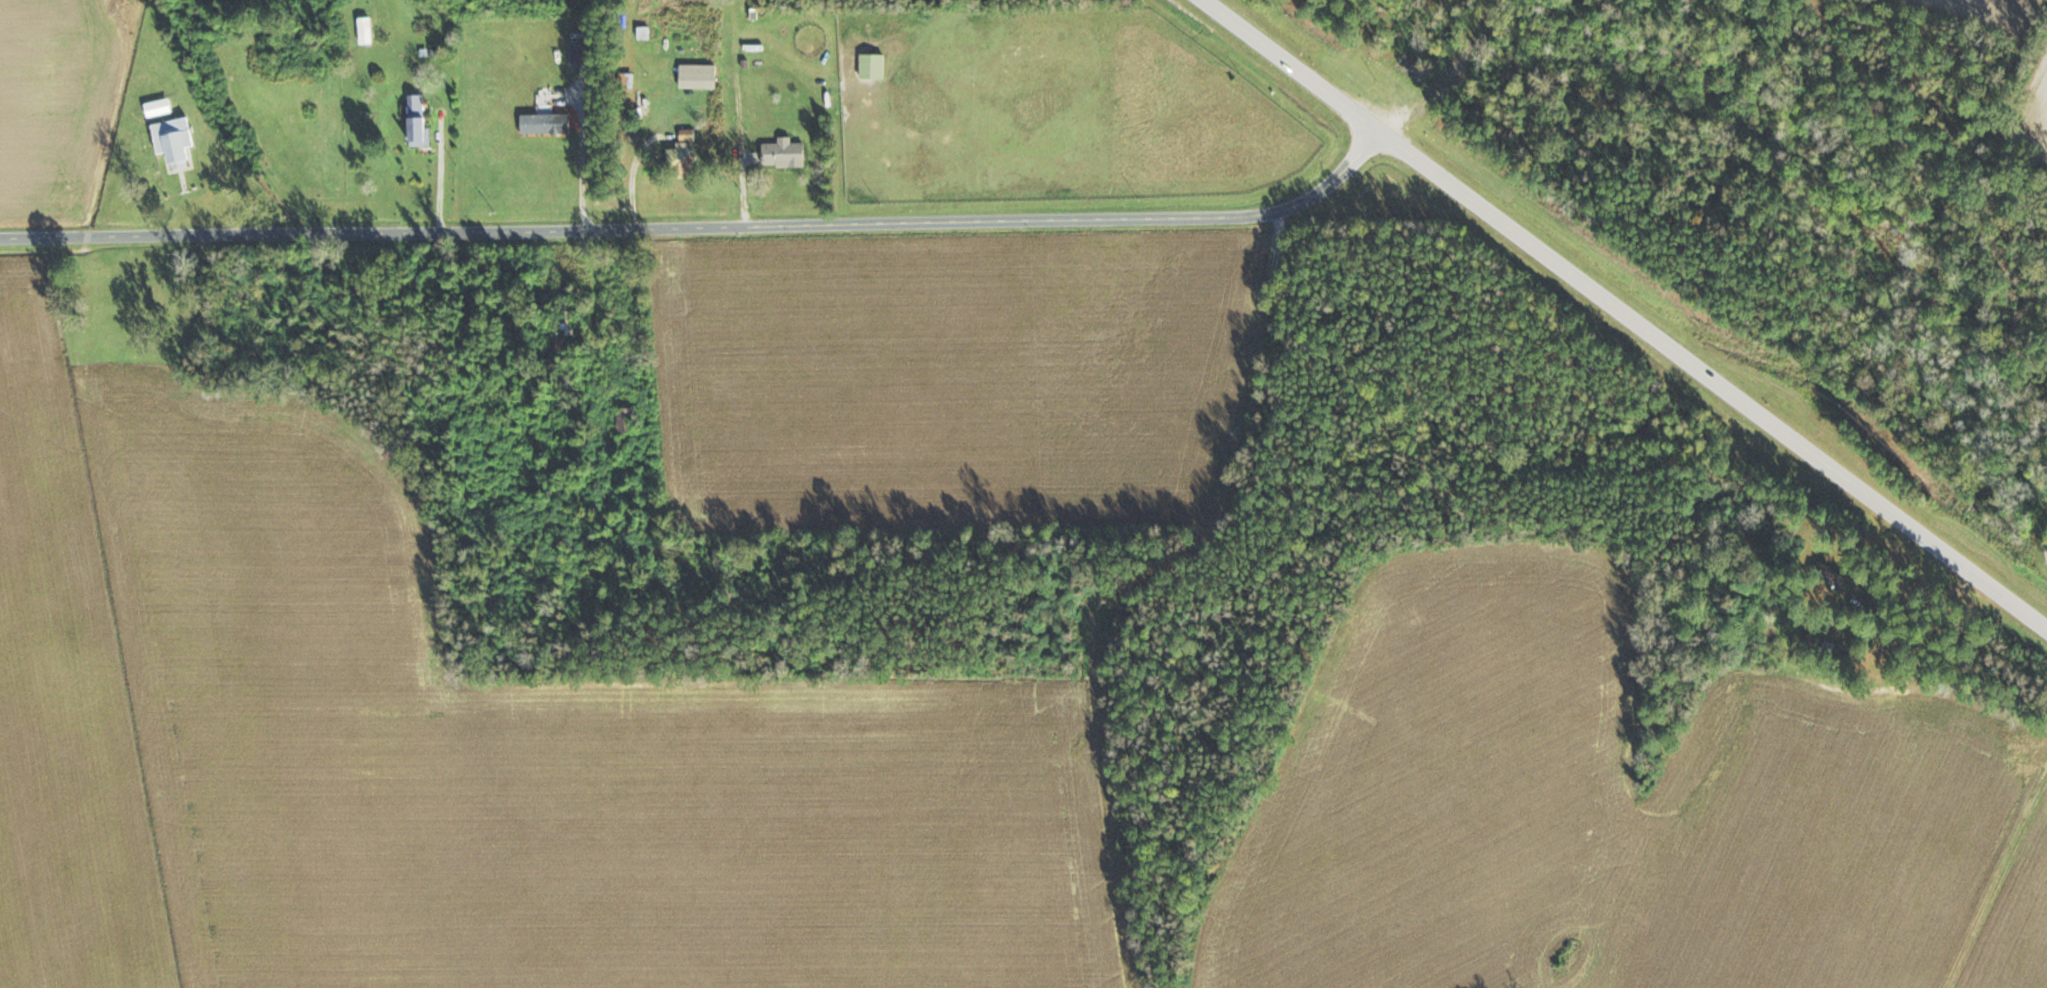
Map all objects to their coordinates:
building: (365, 28)
building: (872, 64)
building: (698, 74)
building: (627, 79)
building: (417, 120)
building: (174, 139)
building: (784, 152)
building: (682, 159)
road: (705, 227)
road: (1625, 312)
building: (1829, 575)
building: (1800, 636)

